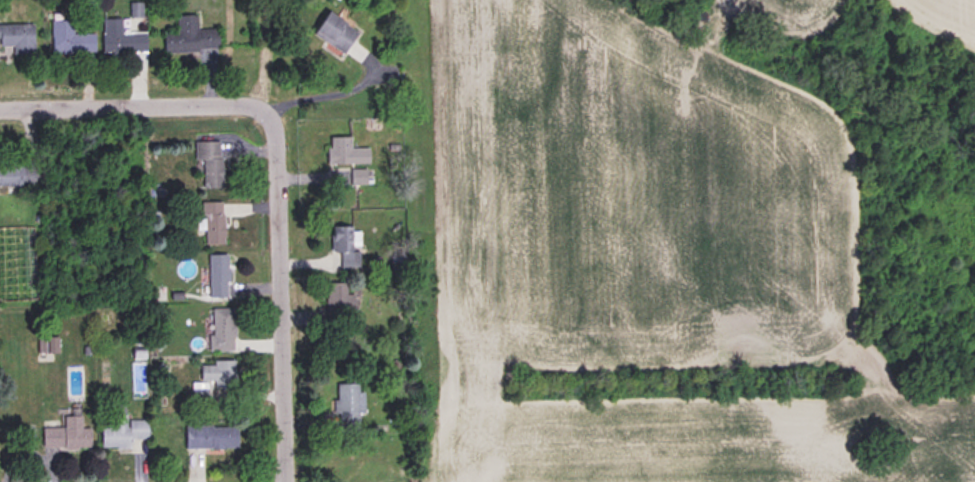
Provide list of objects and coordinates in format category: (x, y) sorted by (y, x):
building: (335, 32)
building: (17, 37)
building: (189, 37)
building: (121, 38)
building: (69, 39)
road: (327, 95)
road: (134, 105)
building: (344, 151)
building: (209, 162)
building: (11, 175)
building: (357, 176)
building: (212, 223)
building: (344, 245)
building: (217, 276)
road: (284, 291)
building: (338, 305)
building: (221, 330)
building: (218, 374)
building: (345, 406)
building: (66, 435)
building: (119, 435)
building: (208, 440)

